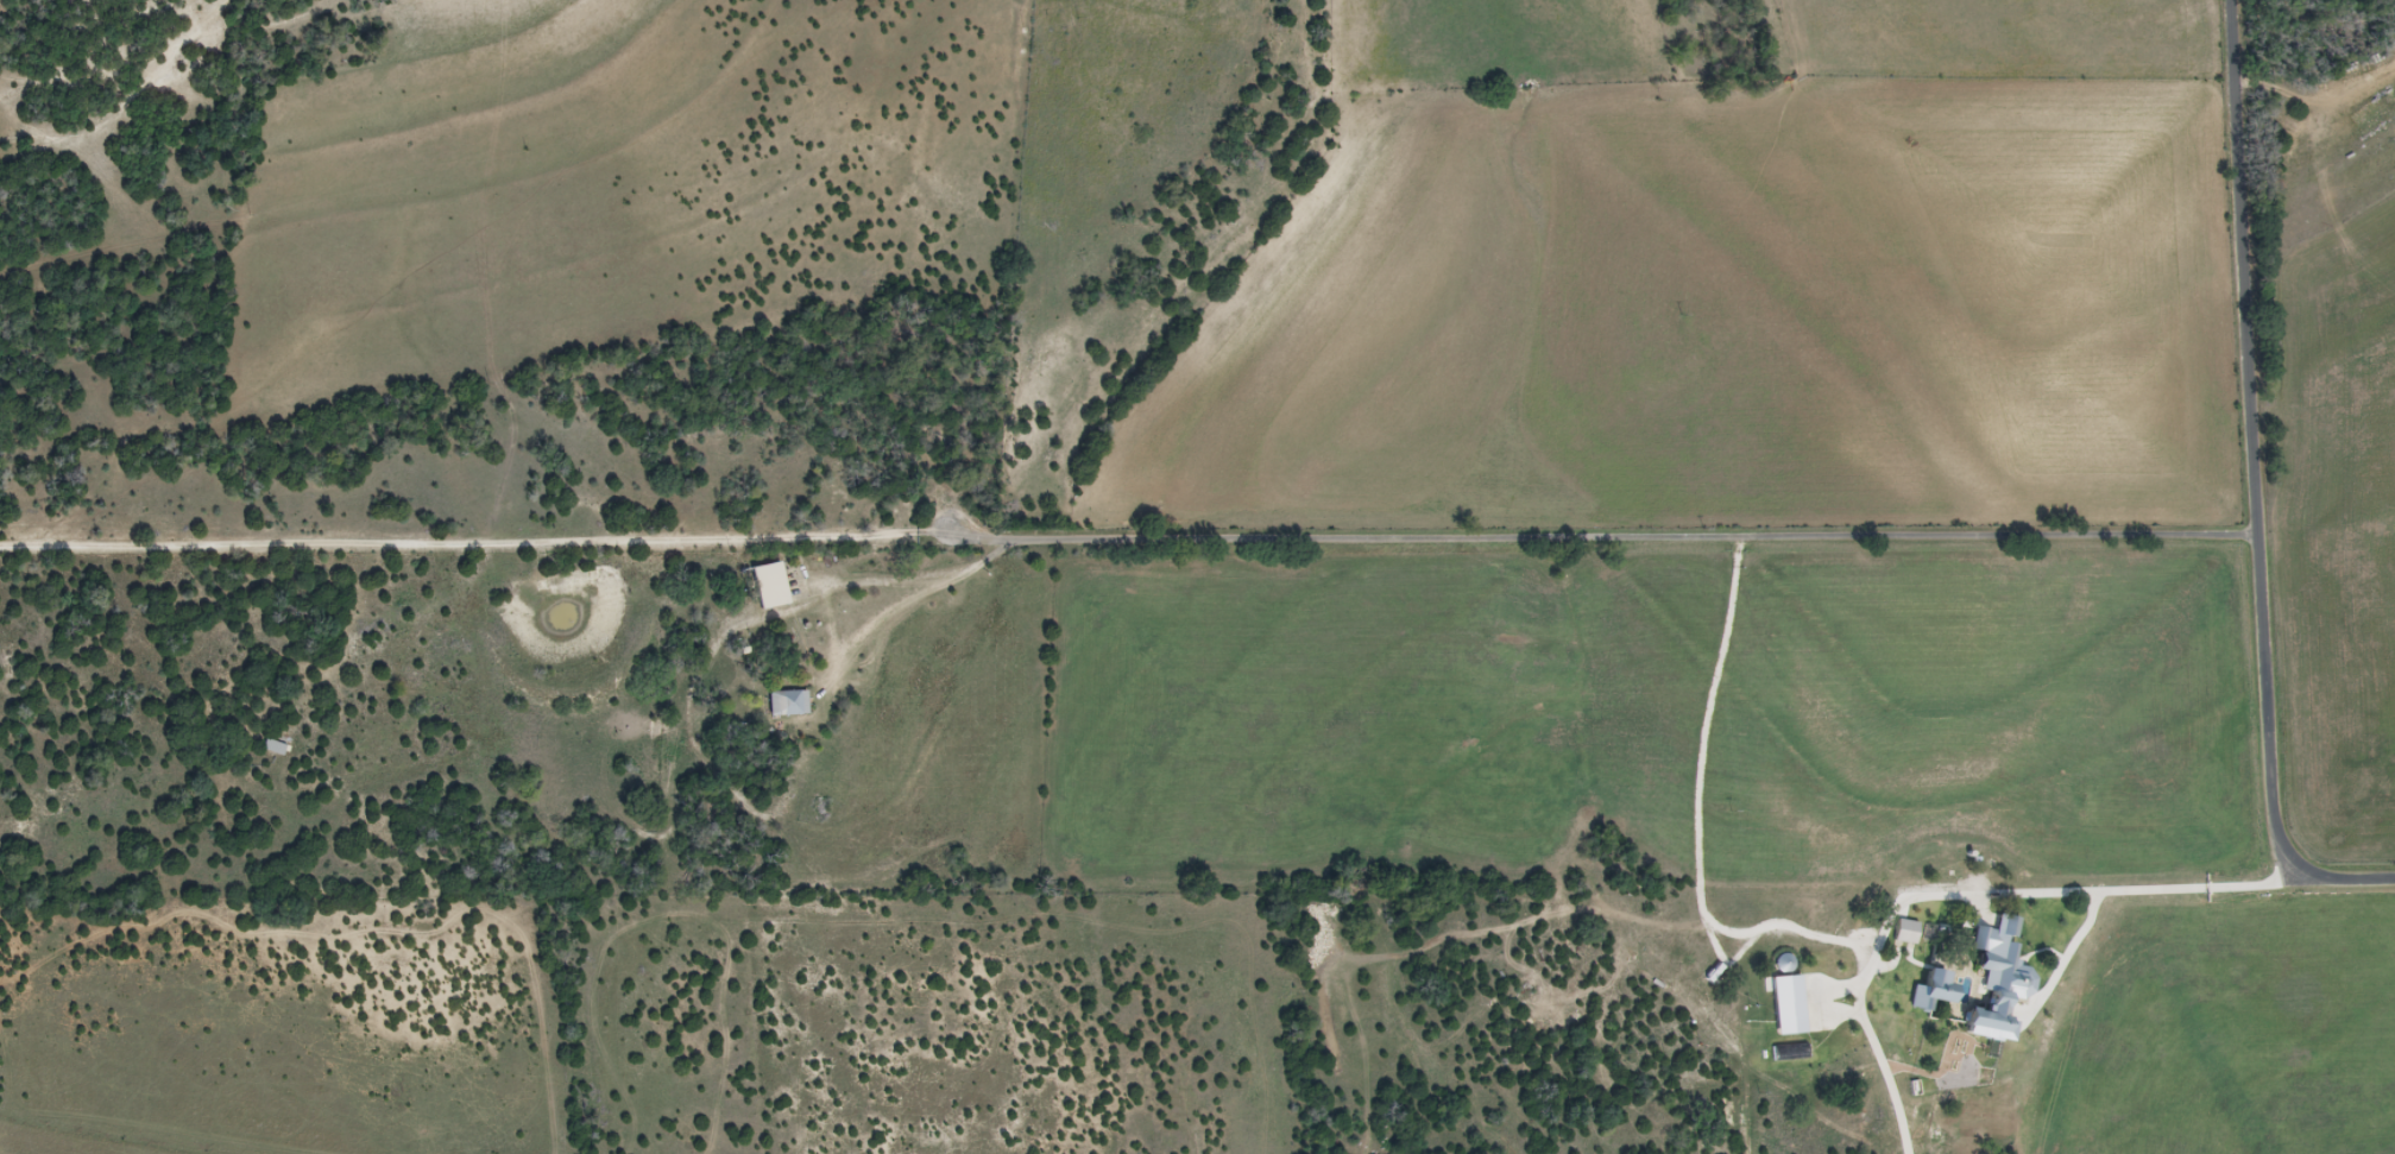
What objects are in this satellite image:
road: (1776, 37)
road: (73, 133)
road: (2254, 488)
road: (1128, 540)
building: (768, 586)
building: (787, 704)
building: (275, 749)
road: (2131, 890)
building: (1917, 937)
building: (1989, 951)

